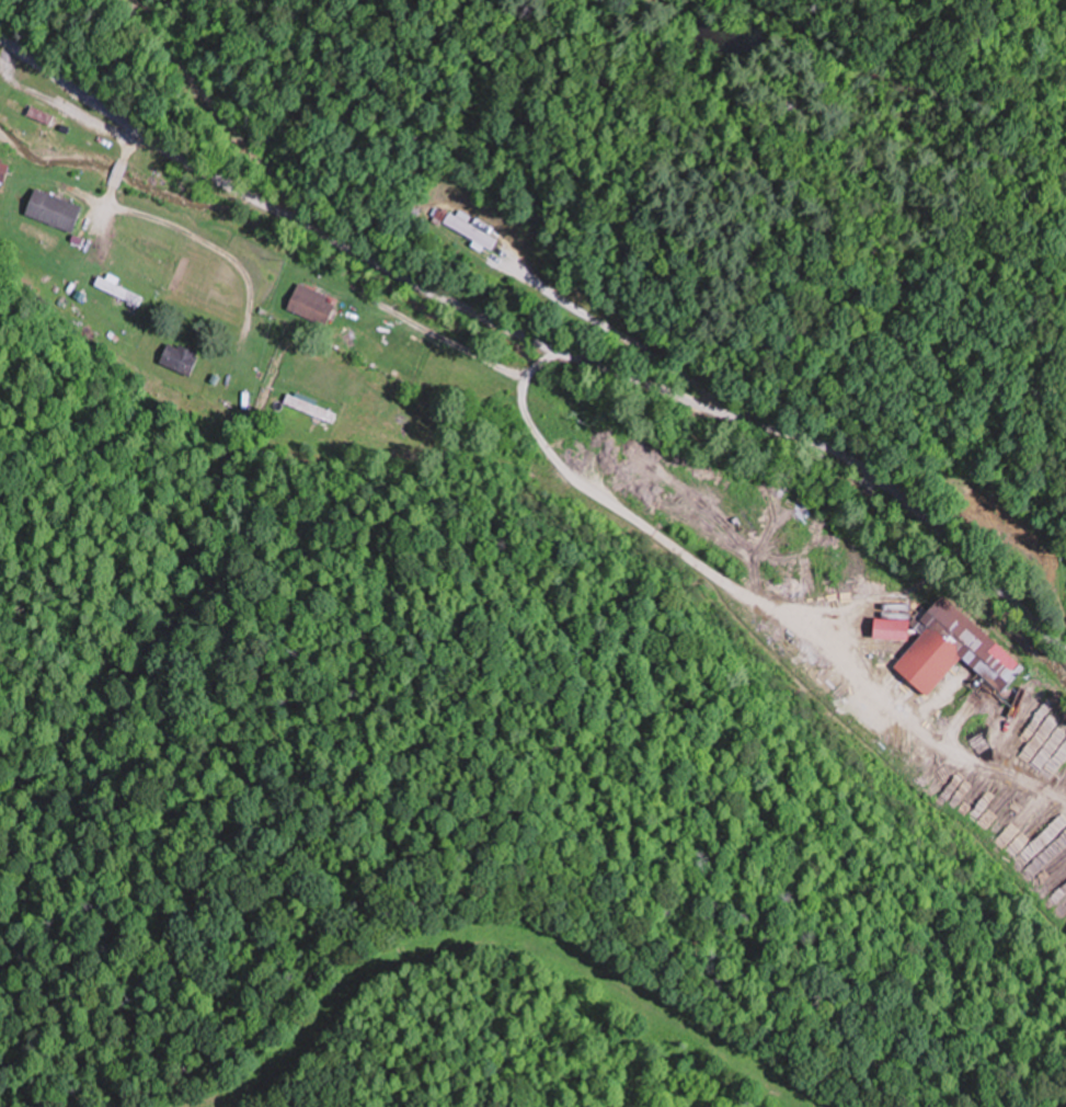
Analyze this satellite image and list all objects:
road: (227, 92)
building: (31, 110)
building: (4, 170)
building: (56, 209)
building: (483, 238)
building: (312, 305)
road: (539, 341)
building: (180, 360)
building: (299, 419)
building: (1019, 544)
building: (951, 647)

